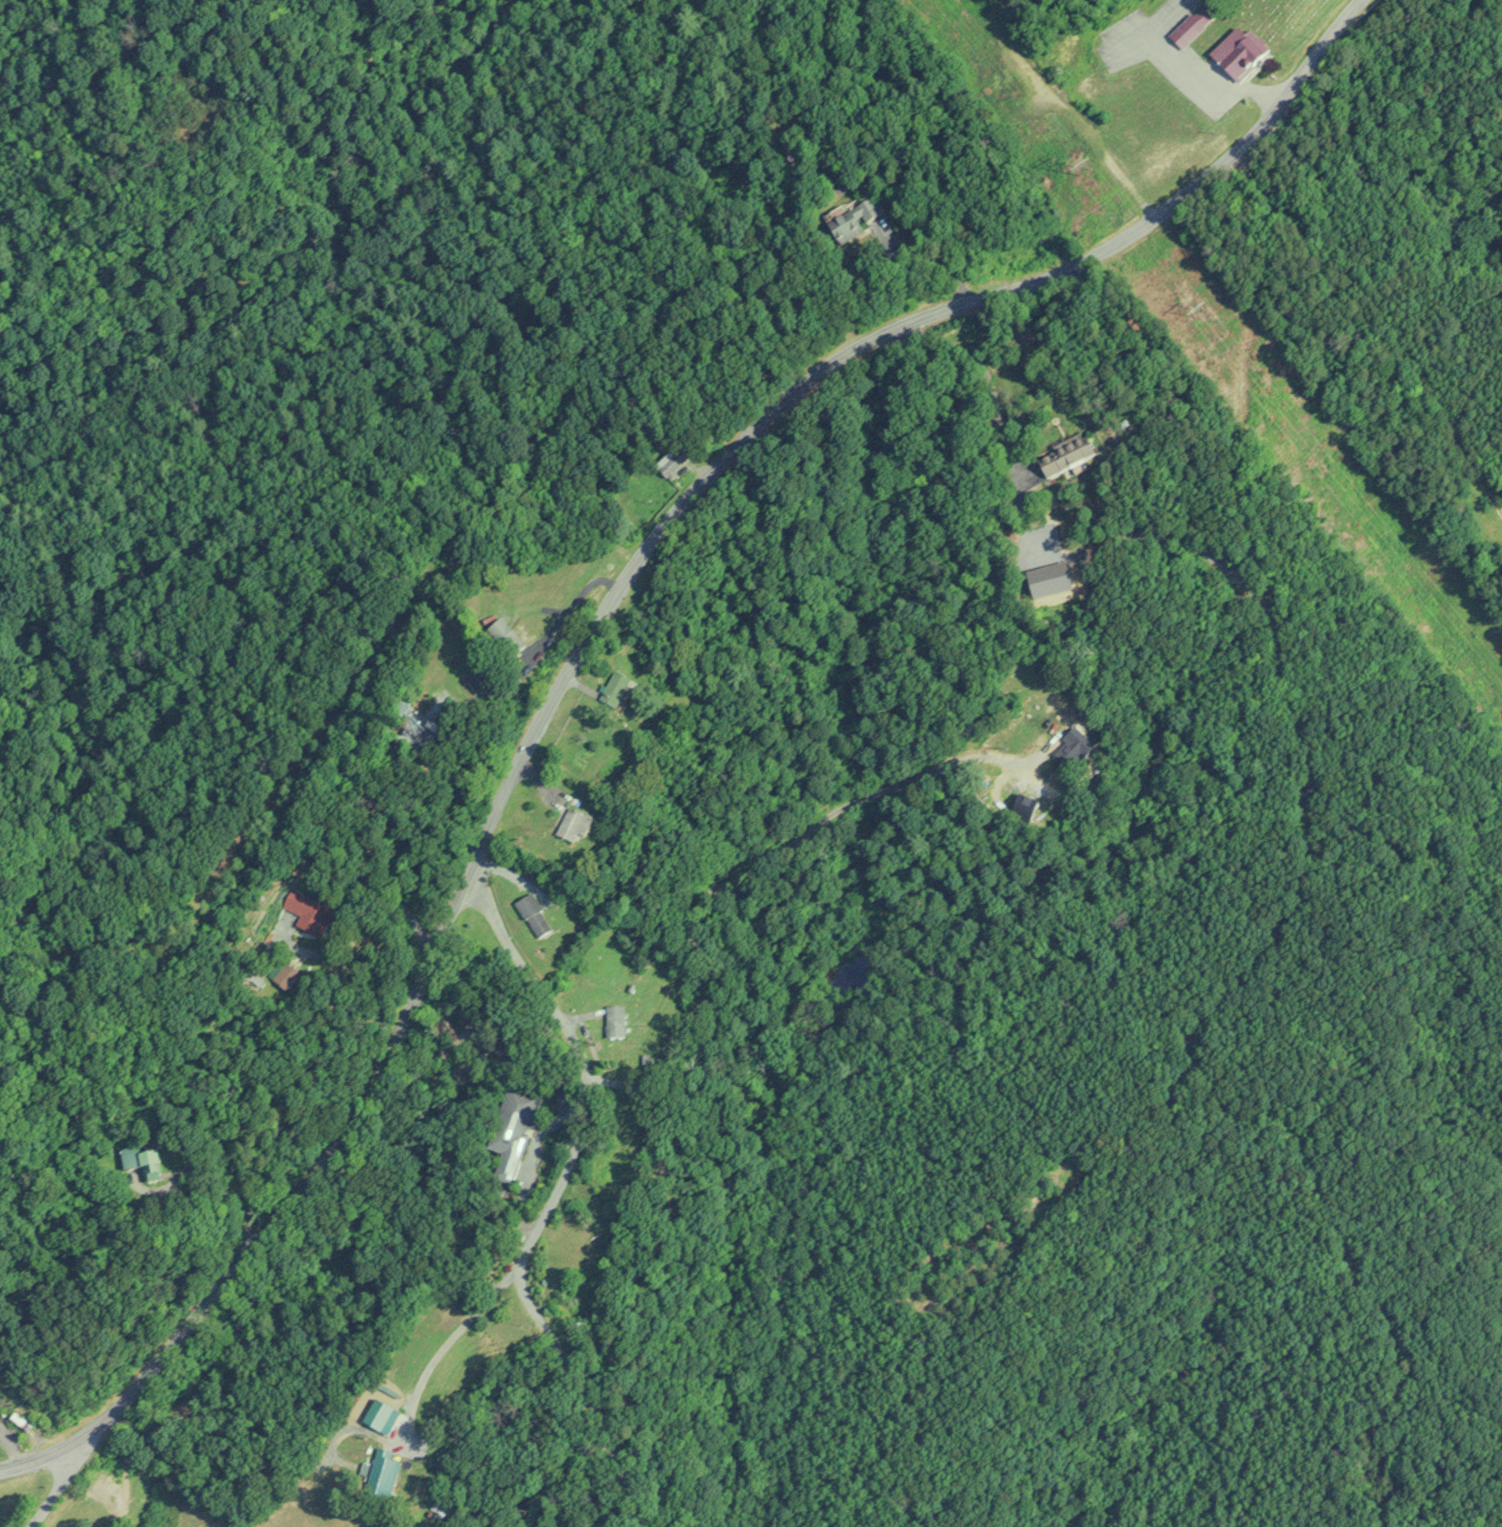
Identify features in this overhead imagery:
building: (1191, 24)
building: (1233, 52)
road: (1205, 80)
power tower: (1083, 172)
building: (850, 220)
power tower: (1199, 312)
road: (989, 387)
building: (1057, 460)
building: (668, 464)
road: (606, 607)
building: (500, 637)
road: (535, 652)
building: (611, 690)
building: (1066, 753)
road: (1311, 769)
building: (568, 827)
road: (777, 857)
road: (353, 887)
building: (305, 911)
building: (529, 916)
building: (611, 1022)
building: (510, 1128)
road: (227, 1145)
building: (137, 1162)
road: (554, 1198)
road: (443, 1349)
road: (42, 1457)
building: (378, 1470)
road: (60, 1484)

